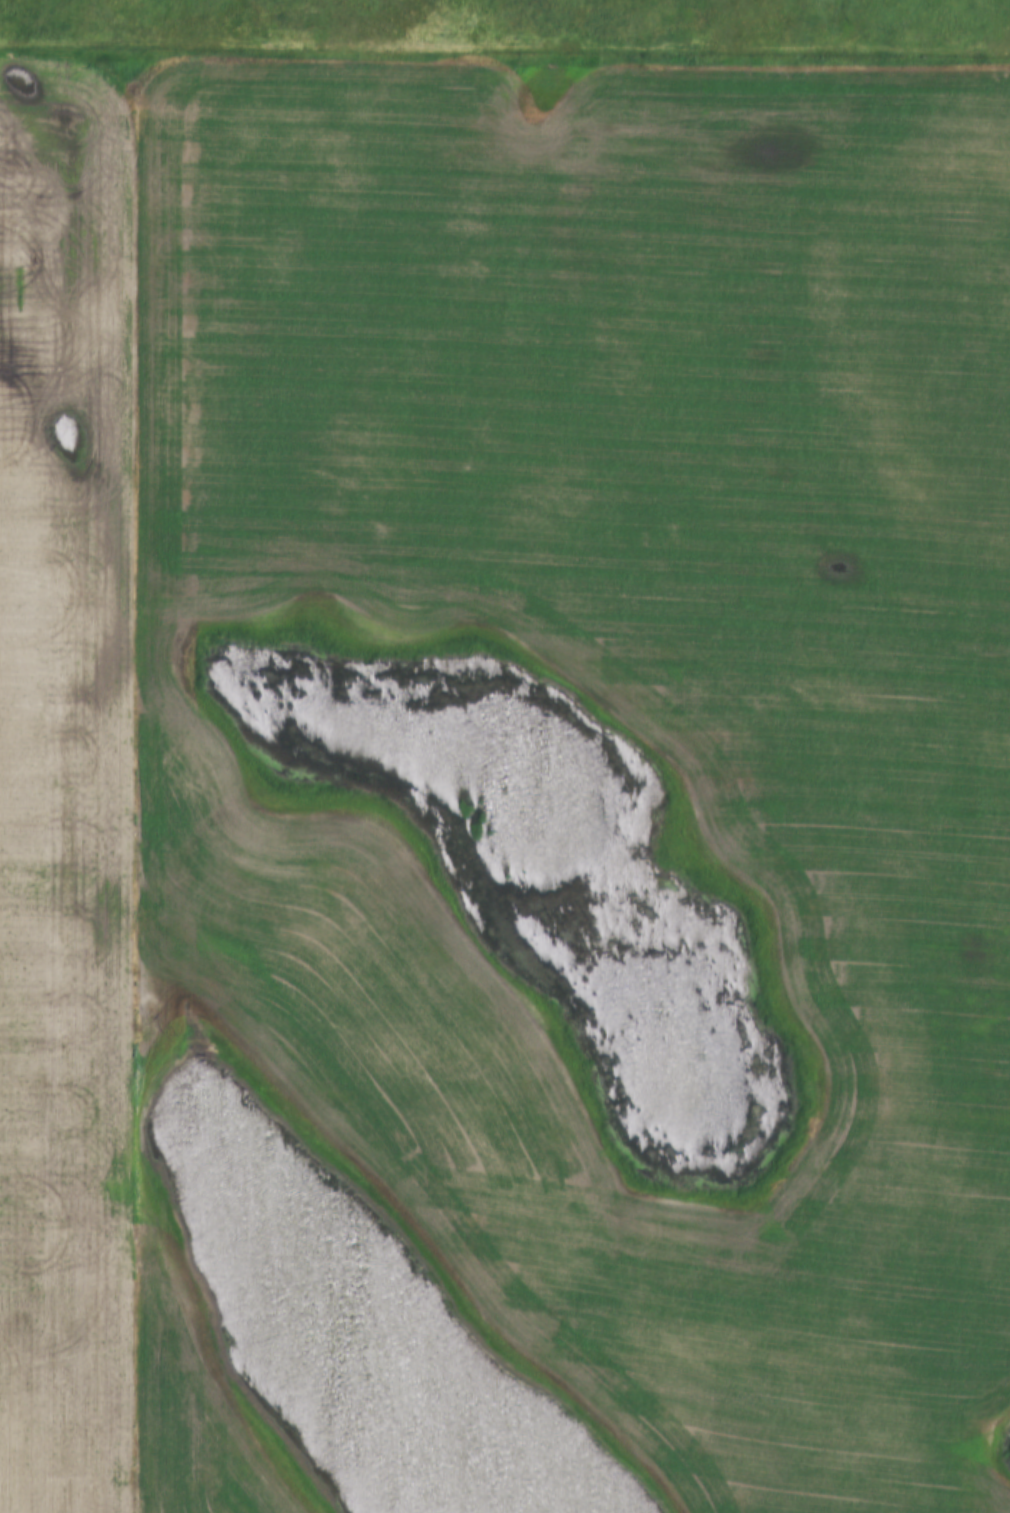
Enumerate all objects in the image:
road: (504, 63)

